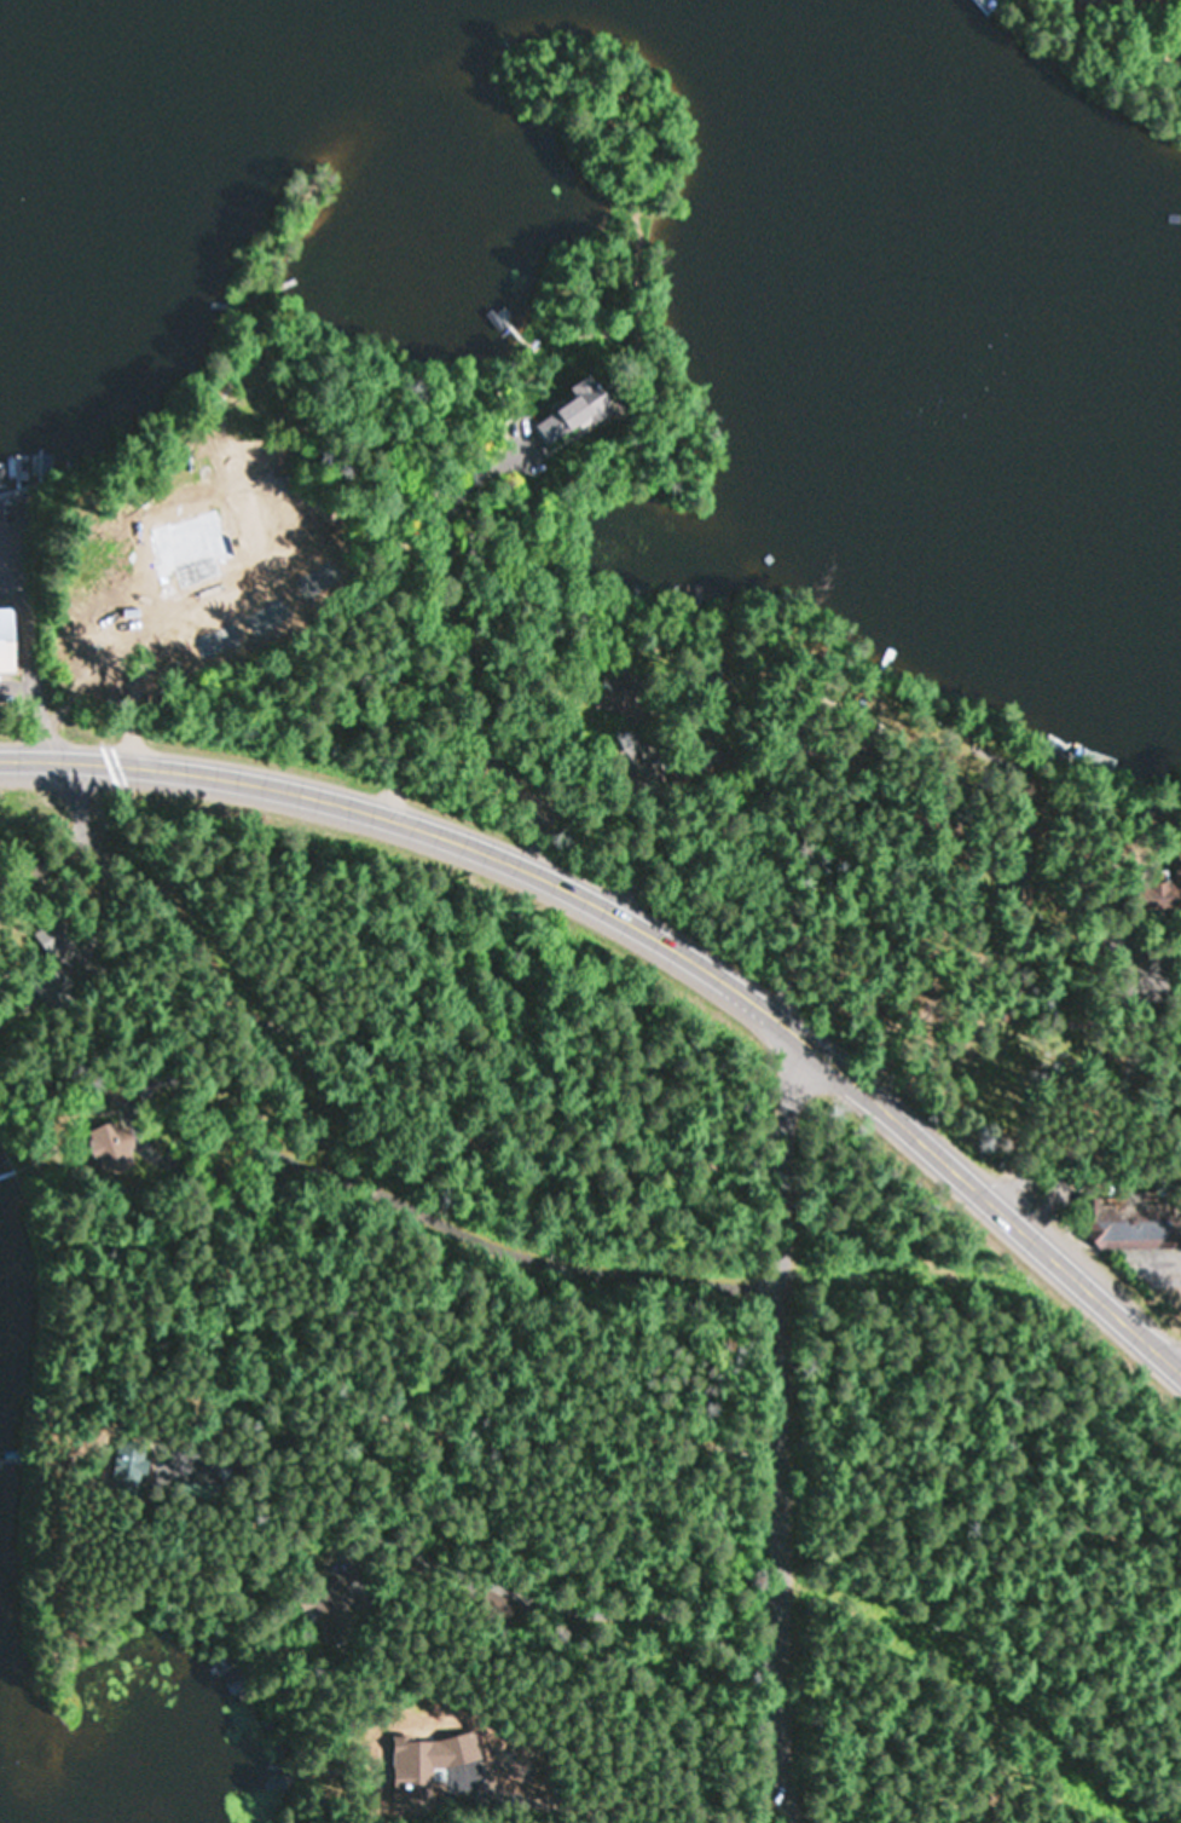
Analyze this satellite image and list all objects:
building: (992, 4)
building: (231, 462)
building: (7, 641)
building: (609, 693)
building: (1168, 893)
road: (653, 930)
building: (52, 934)
road: (323, 1141)
building: (112, 1147)
building: (1133, 1224)
road: (1121, 1258)
road: (911, 1259)
road: (758, 1429)
building: (324, 1600)
building: (494, 1608)
building: (406, 1771)

